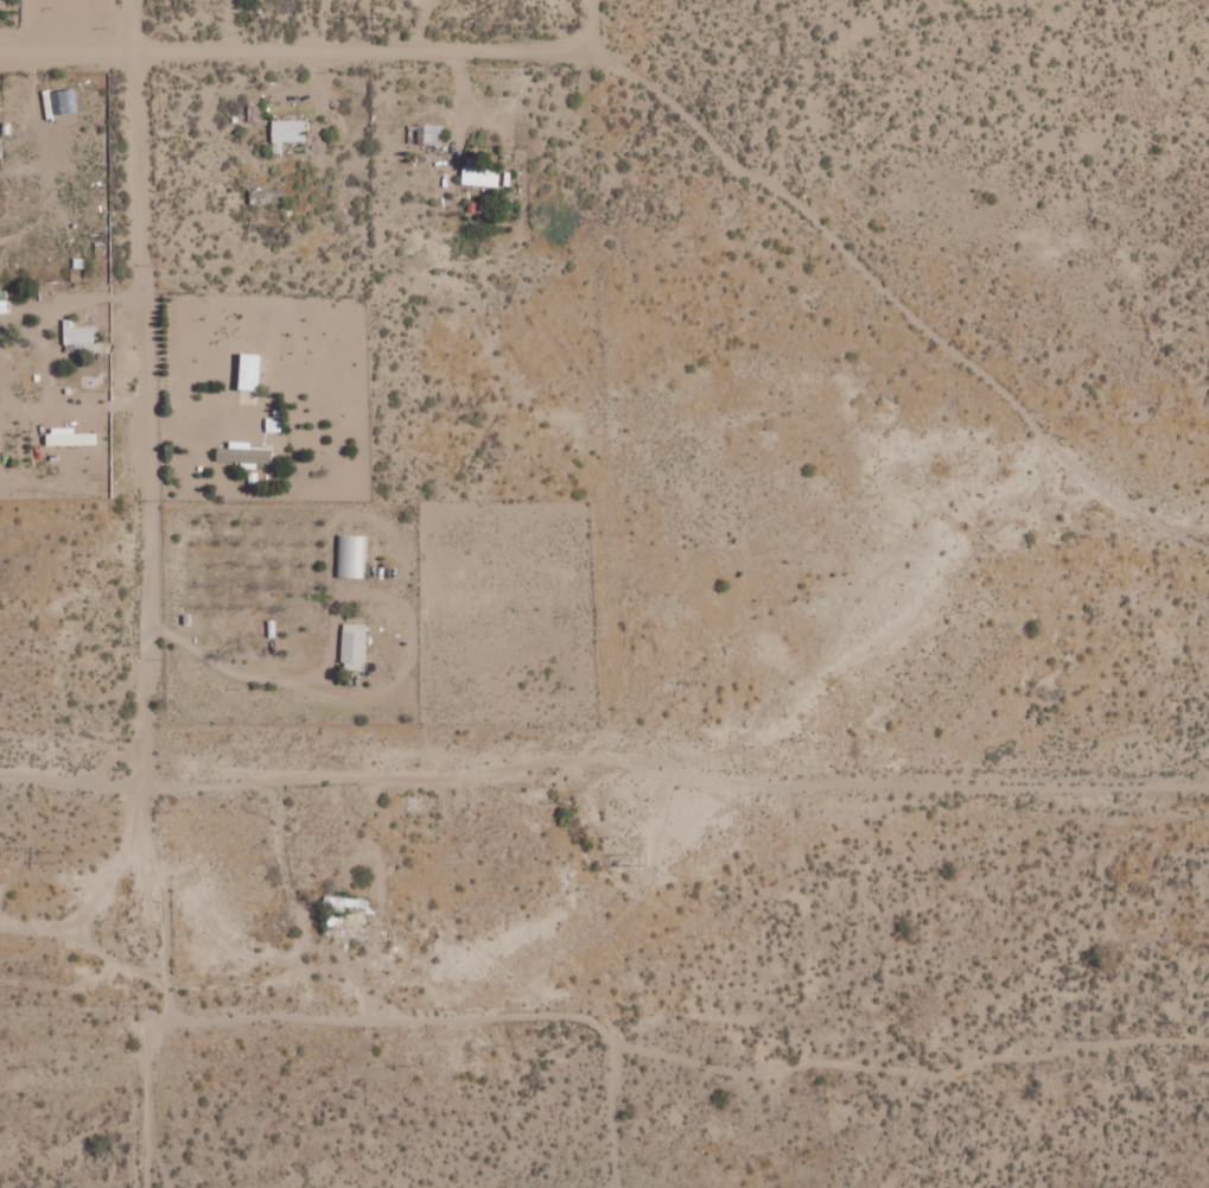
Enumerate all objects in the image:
road: (590, 23)
road: (293, 47)
building: (287, 133)
building: (479, 174)
building: (4, 301)
building: (77, 333)
building: (249, 371)
road: (134, 393)
building: (273, 424)
building: (69, 437)
building: (243, 453)
building: (351, 555)
building: (354, 647)

